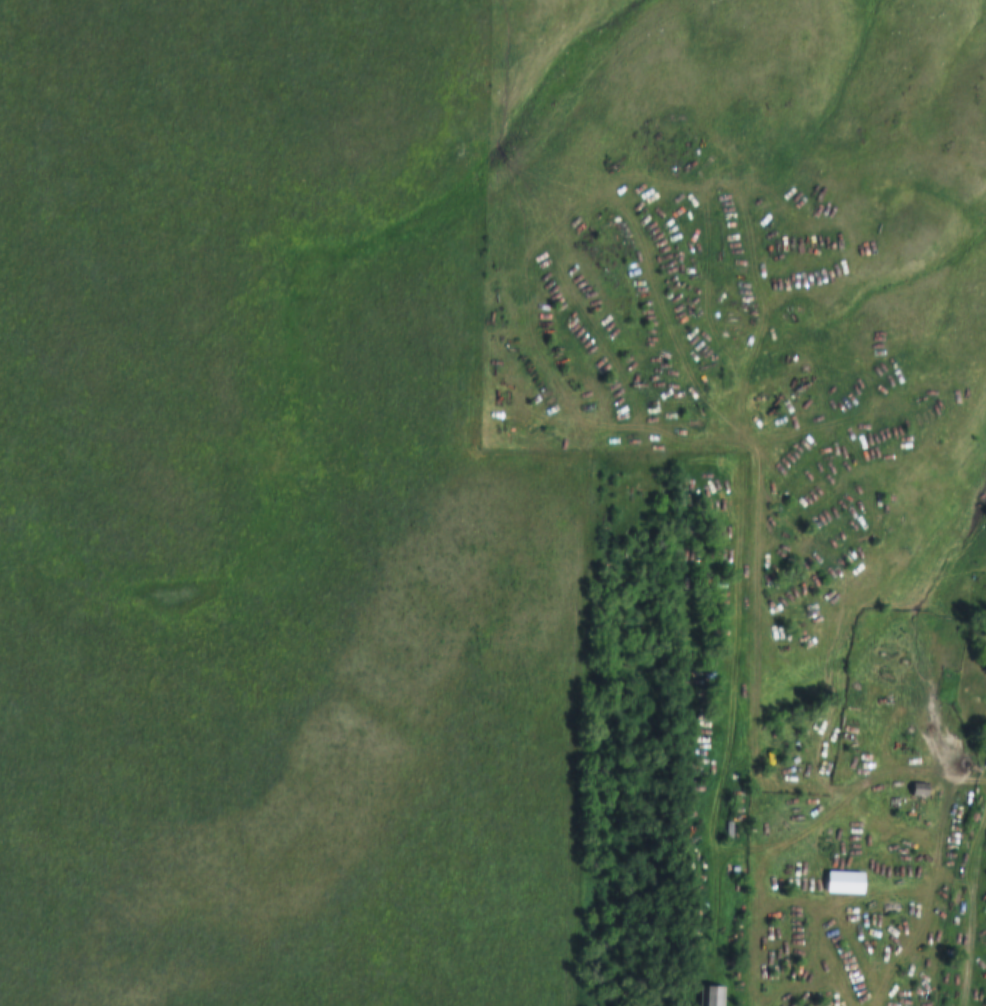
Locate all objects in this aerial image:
road: (954, 765)
building: (916, 791)
building: (840, 883)
building: (708, 997)

